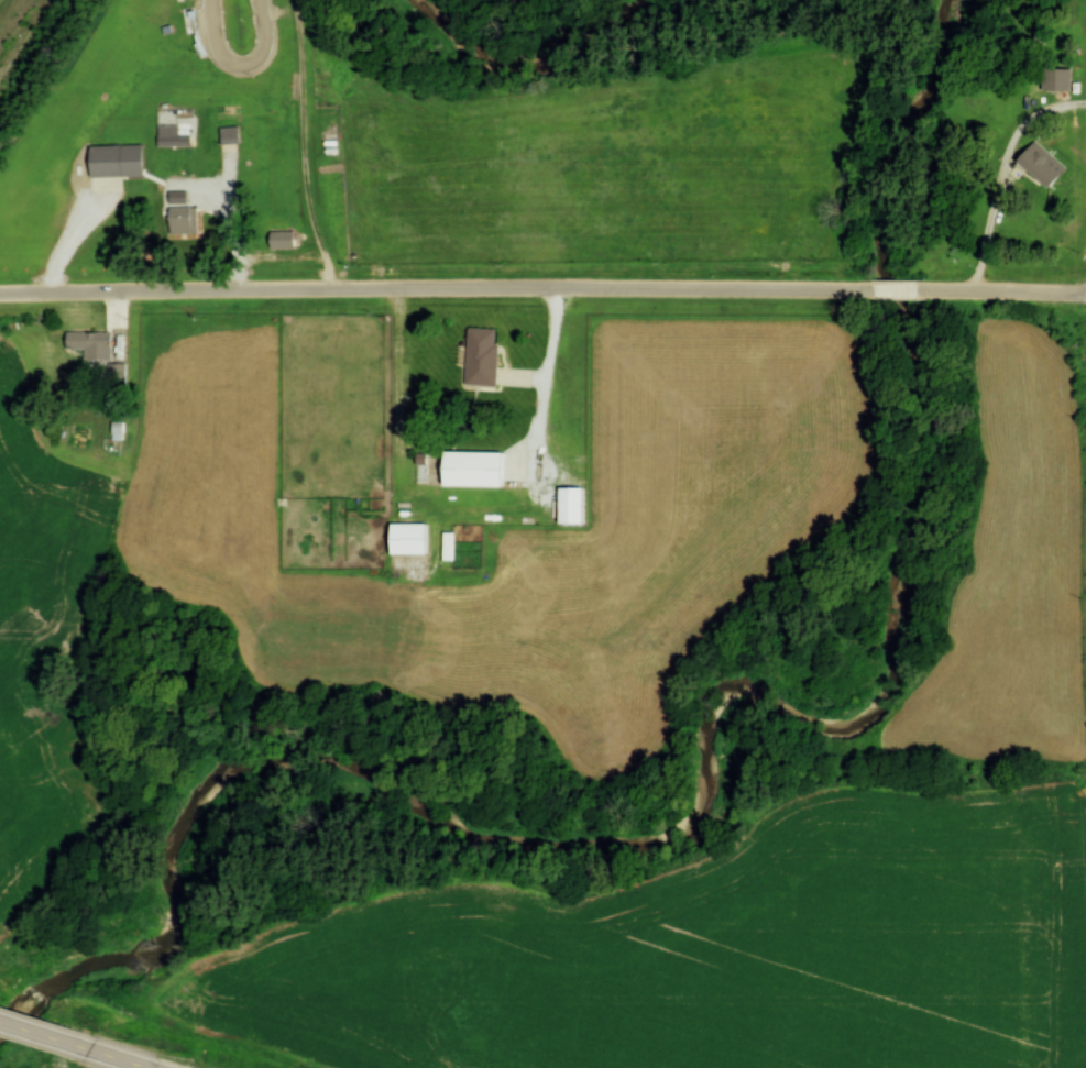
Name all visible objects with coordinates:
building: (1057, 80)
building: (163, 121)
building: (230, 135)
building: (174, 141)
building: (118, 157)
building: (1042, 164)
road: (1007, 174)
building: (178, 198)
building: (183, 220)
building: (282, 240)
road: (439, 289)
road: (902, 291)
road: (1005, 291)
building: (90, 344)
building: (482, 356)
building: (117, 375)
building: (118, 432)
building: (476, 465)
building: (413, 536)
crop: (705, 953)
road: (45, 1033)
road: (121, 1058)

